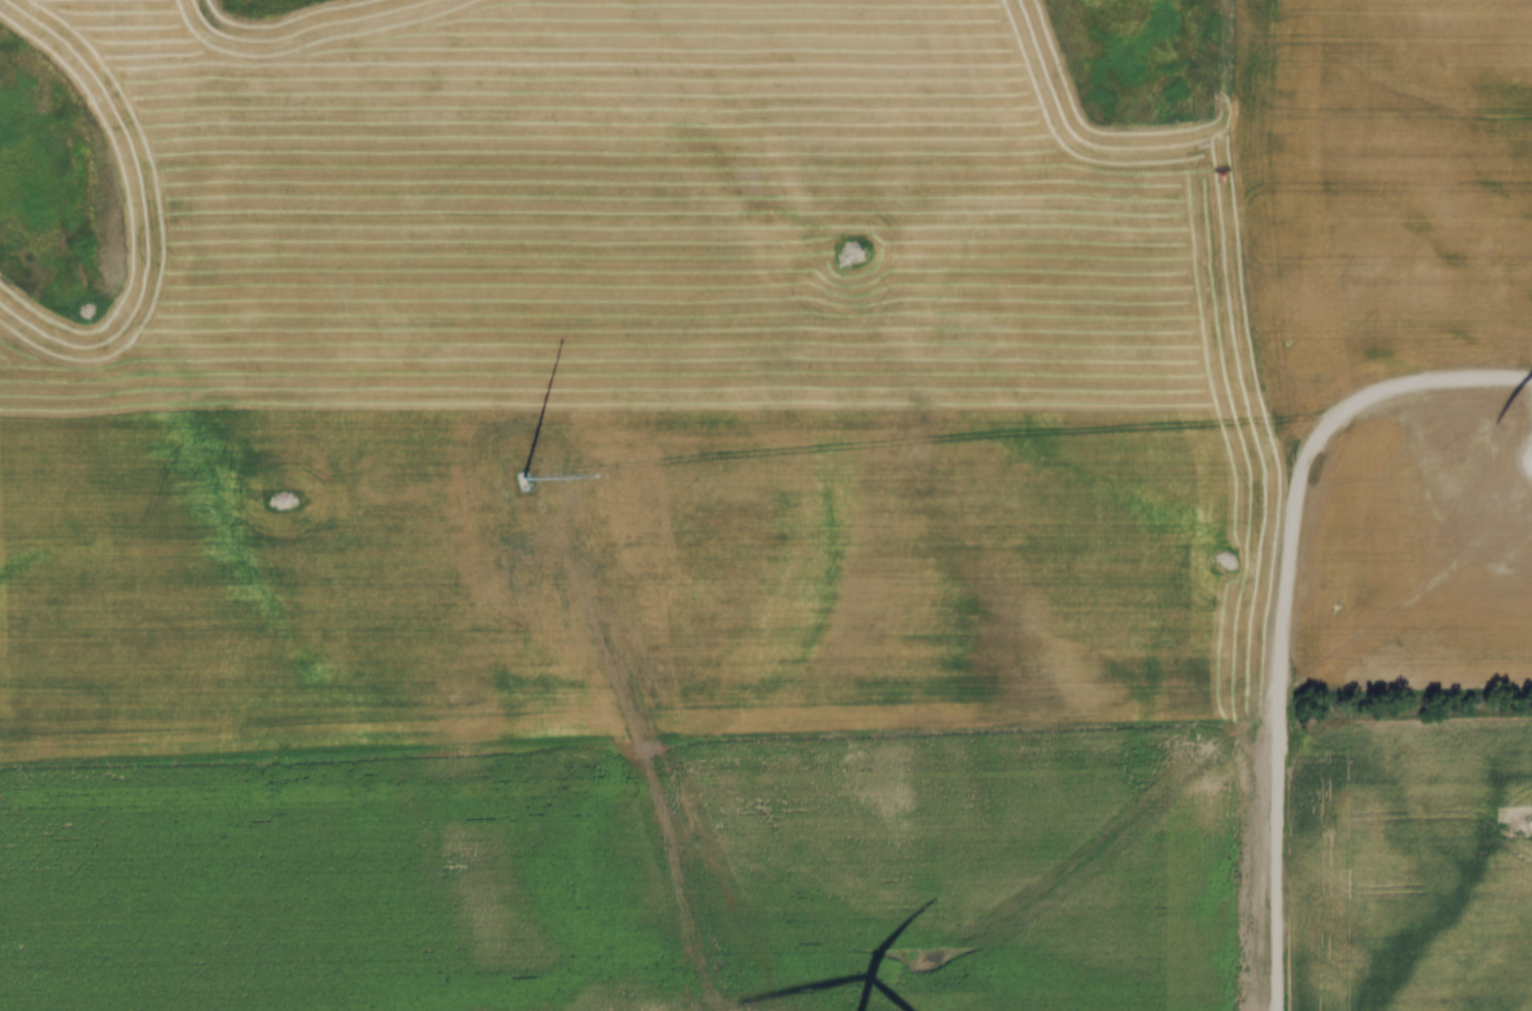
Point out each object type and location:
road: (1264, 504)

